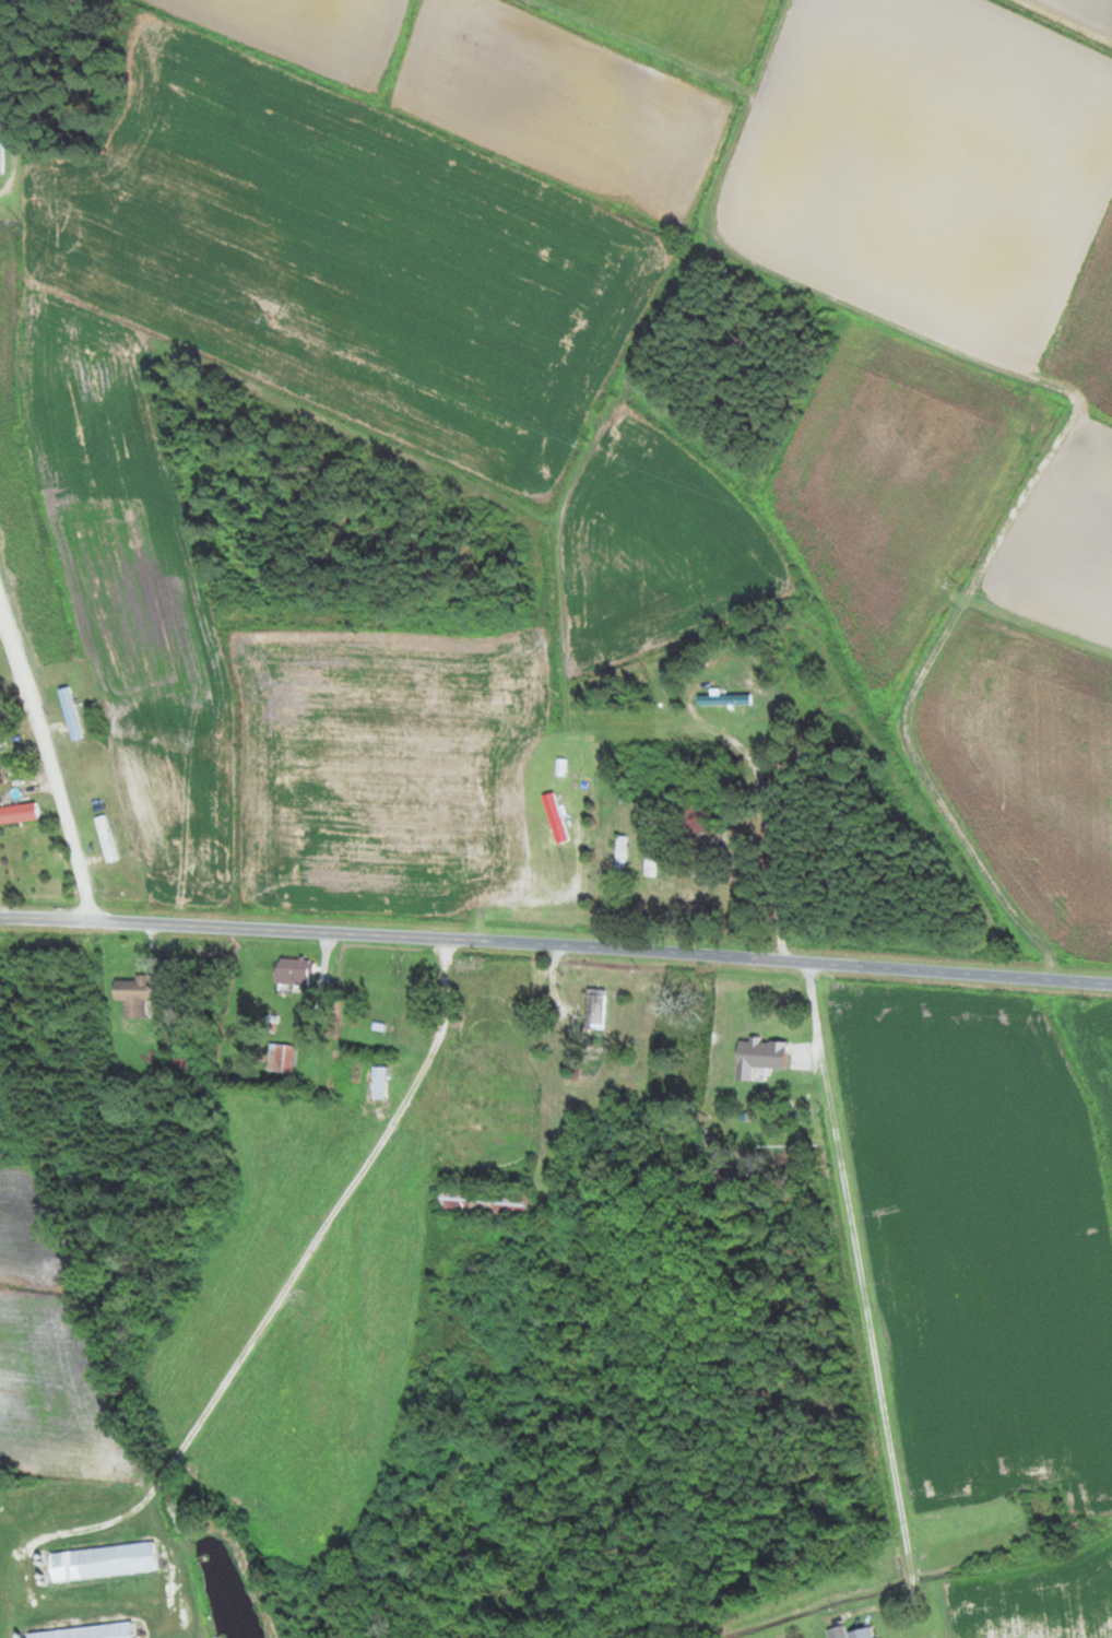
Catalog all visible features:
building: (1, 146)
road: (671, 388)
road: (938, 449)
road: (482, 545)
building: (70, 714)
road: (49, 763)
building: (17, 813)
building: (689, 815)
building: (104, 838)
building: (618, 852)
road: (556, 942)
building: (293, 970)
building: (132, 995)
building: (592, 1009)
building: (759, 1053)
building: (280, 1058)
road: (784, 1063)
building: (377, 1081)
building: (481, 1200)
road: (335, 1247)
building: (100, 1562)
building: (83, 1631)
building: (860, 1633)

